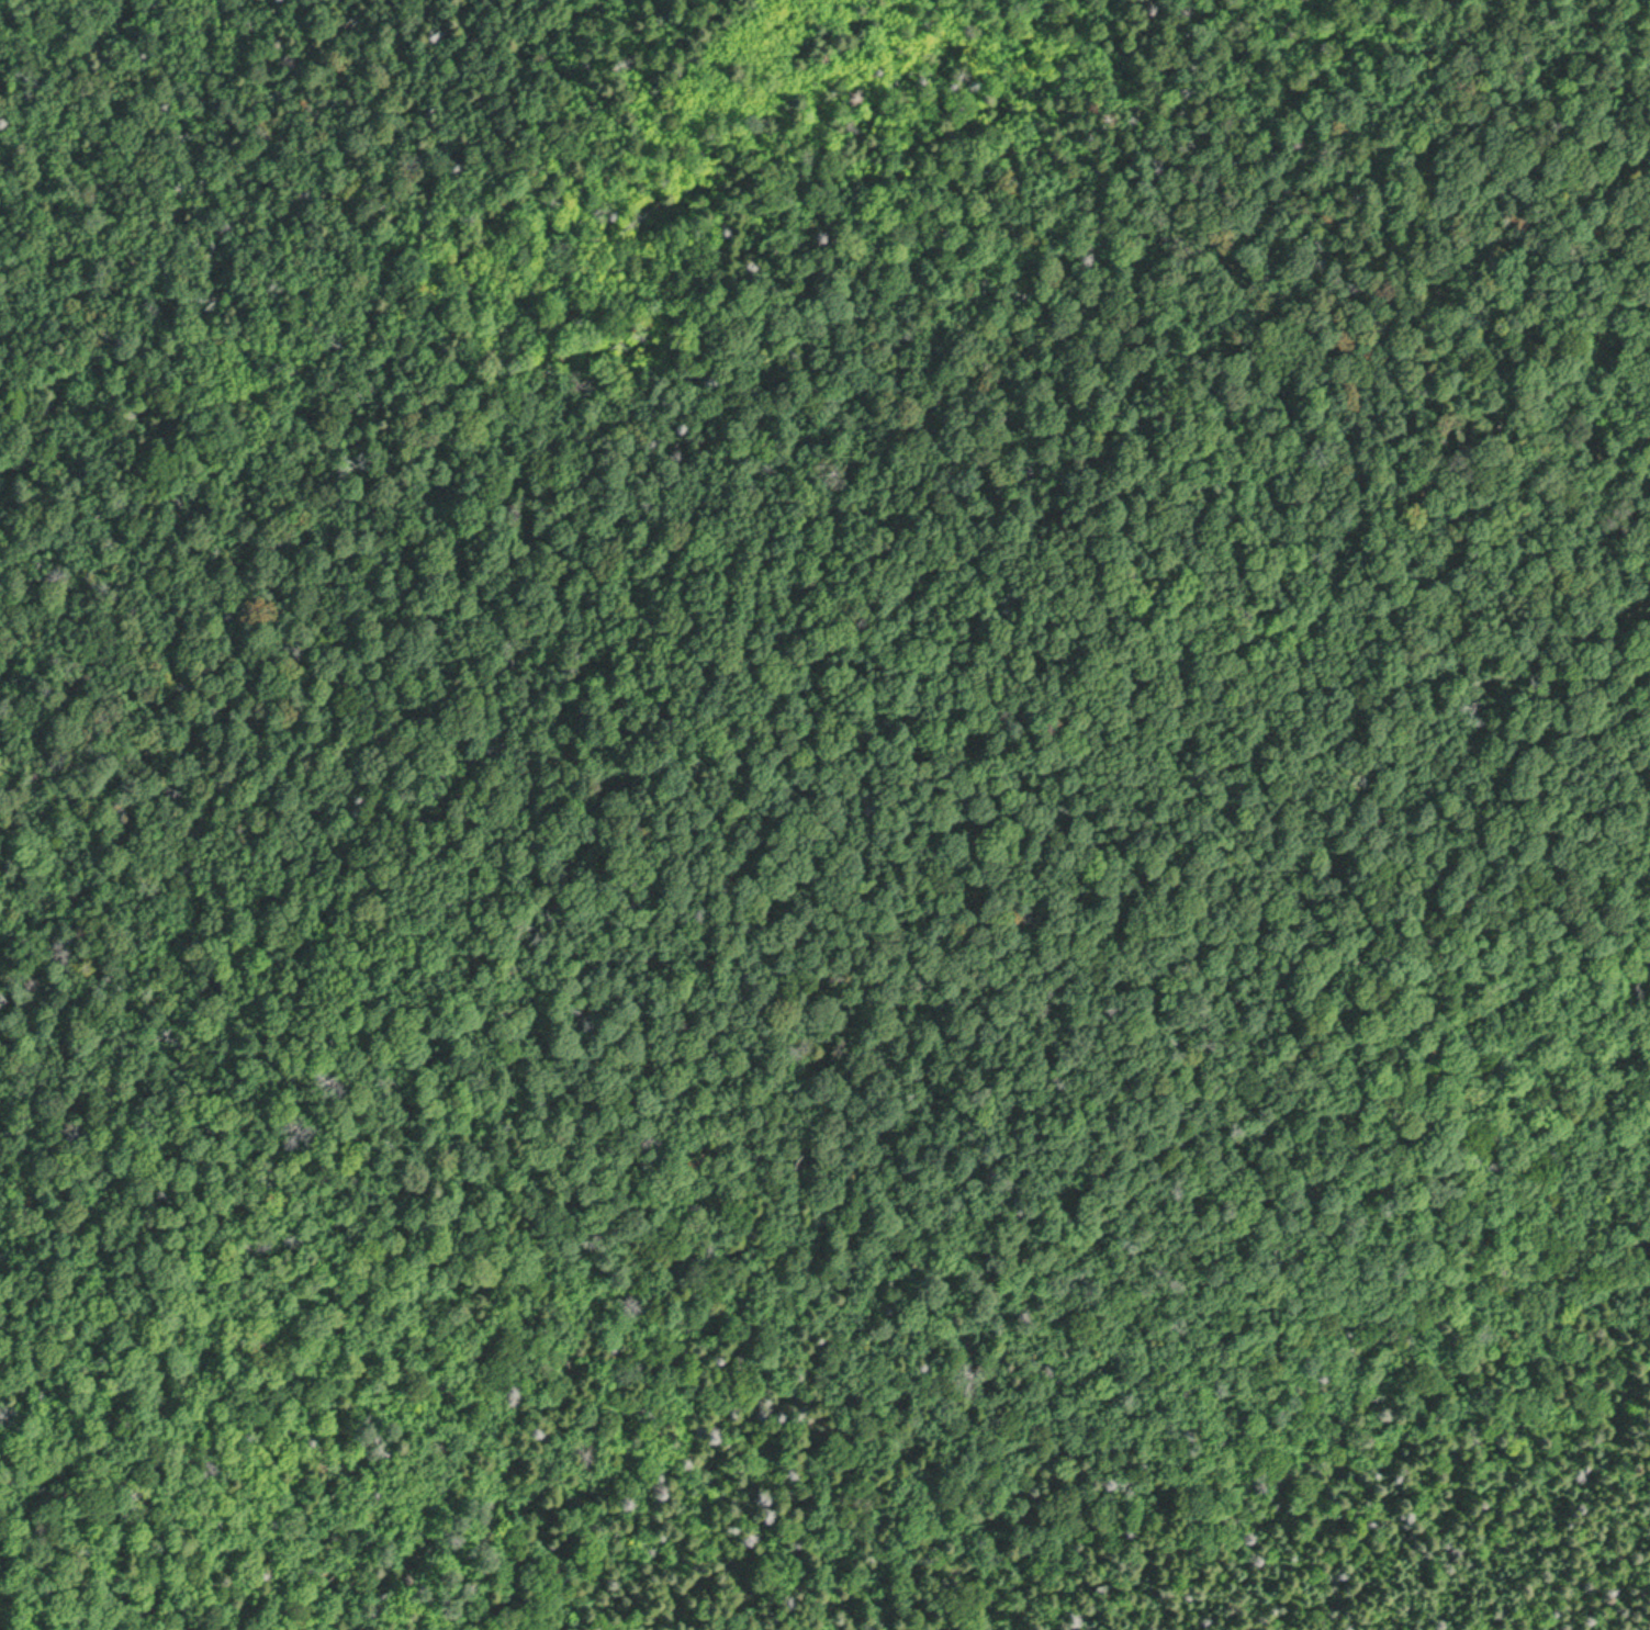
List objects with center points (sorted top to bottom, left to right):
road: (693, 469)

